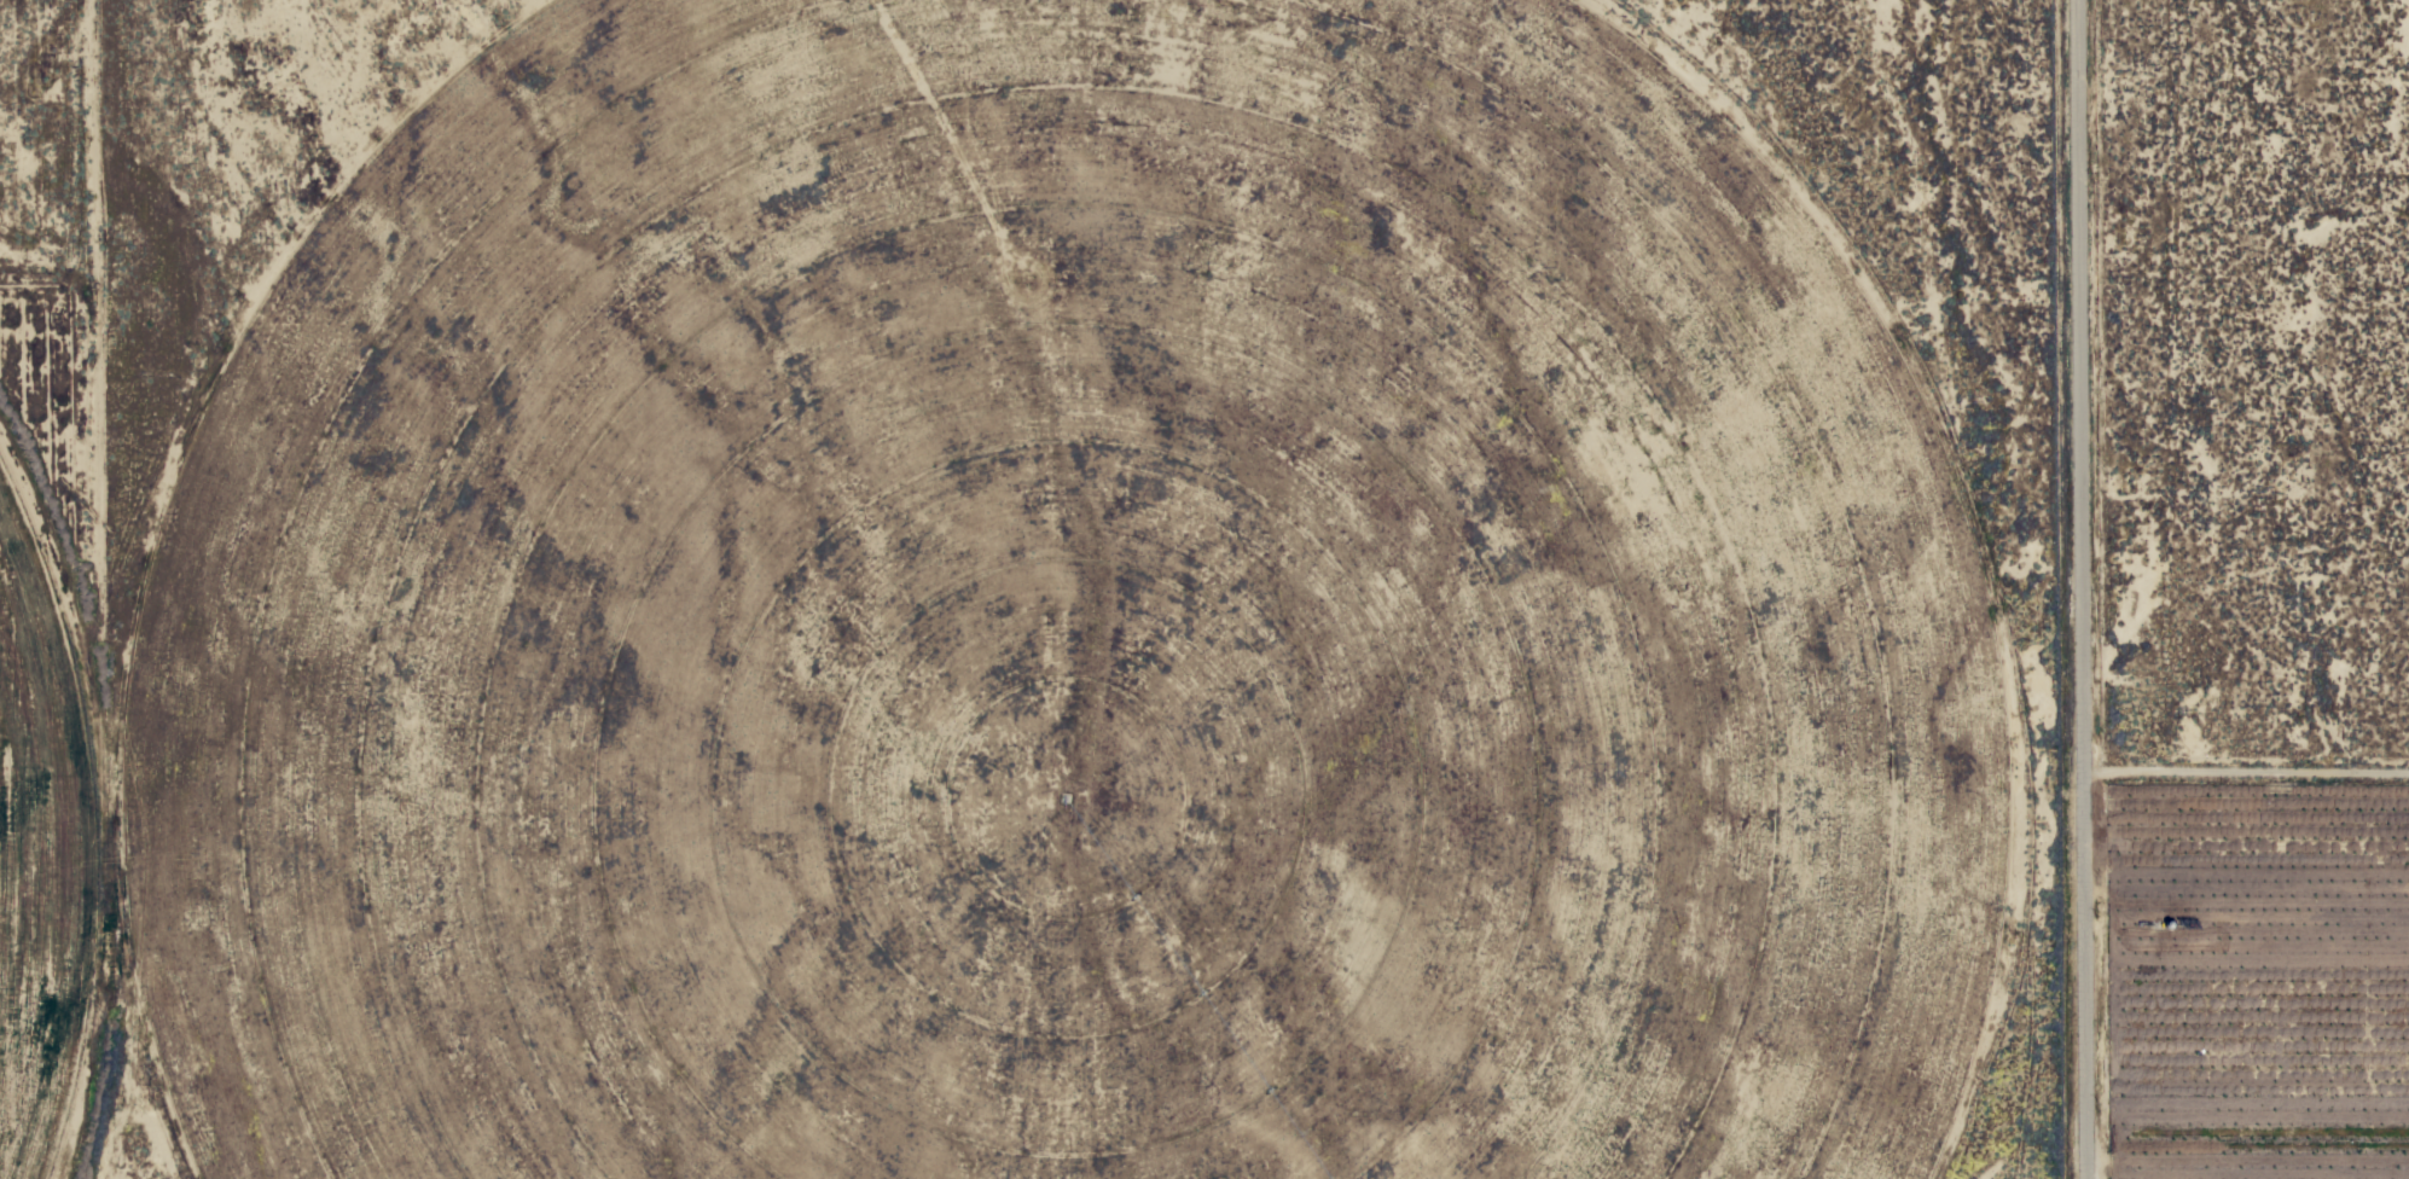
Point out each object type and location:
road: (42, 589)
road: (2072, 589)
crop: (1033, 631)
road: (2241, 768)

